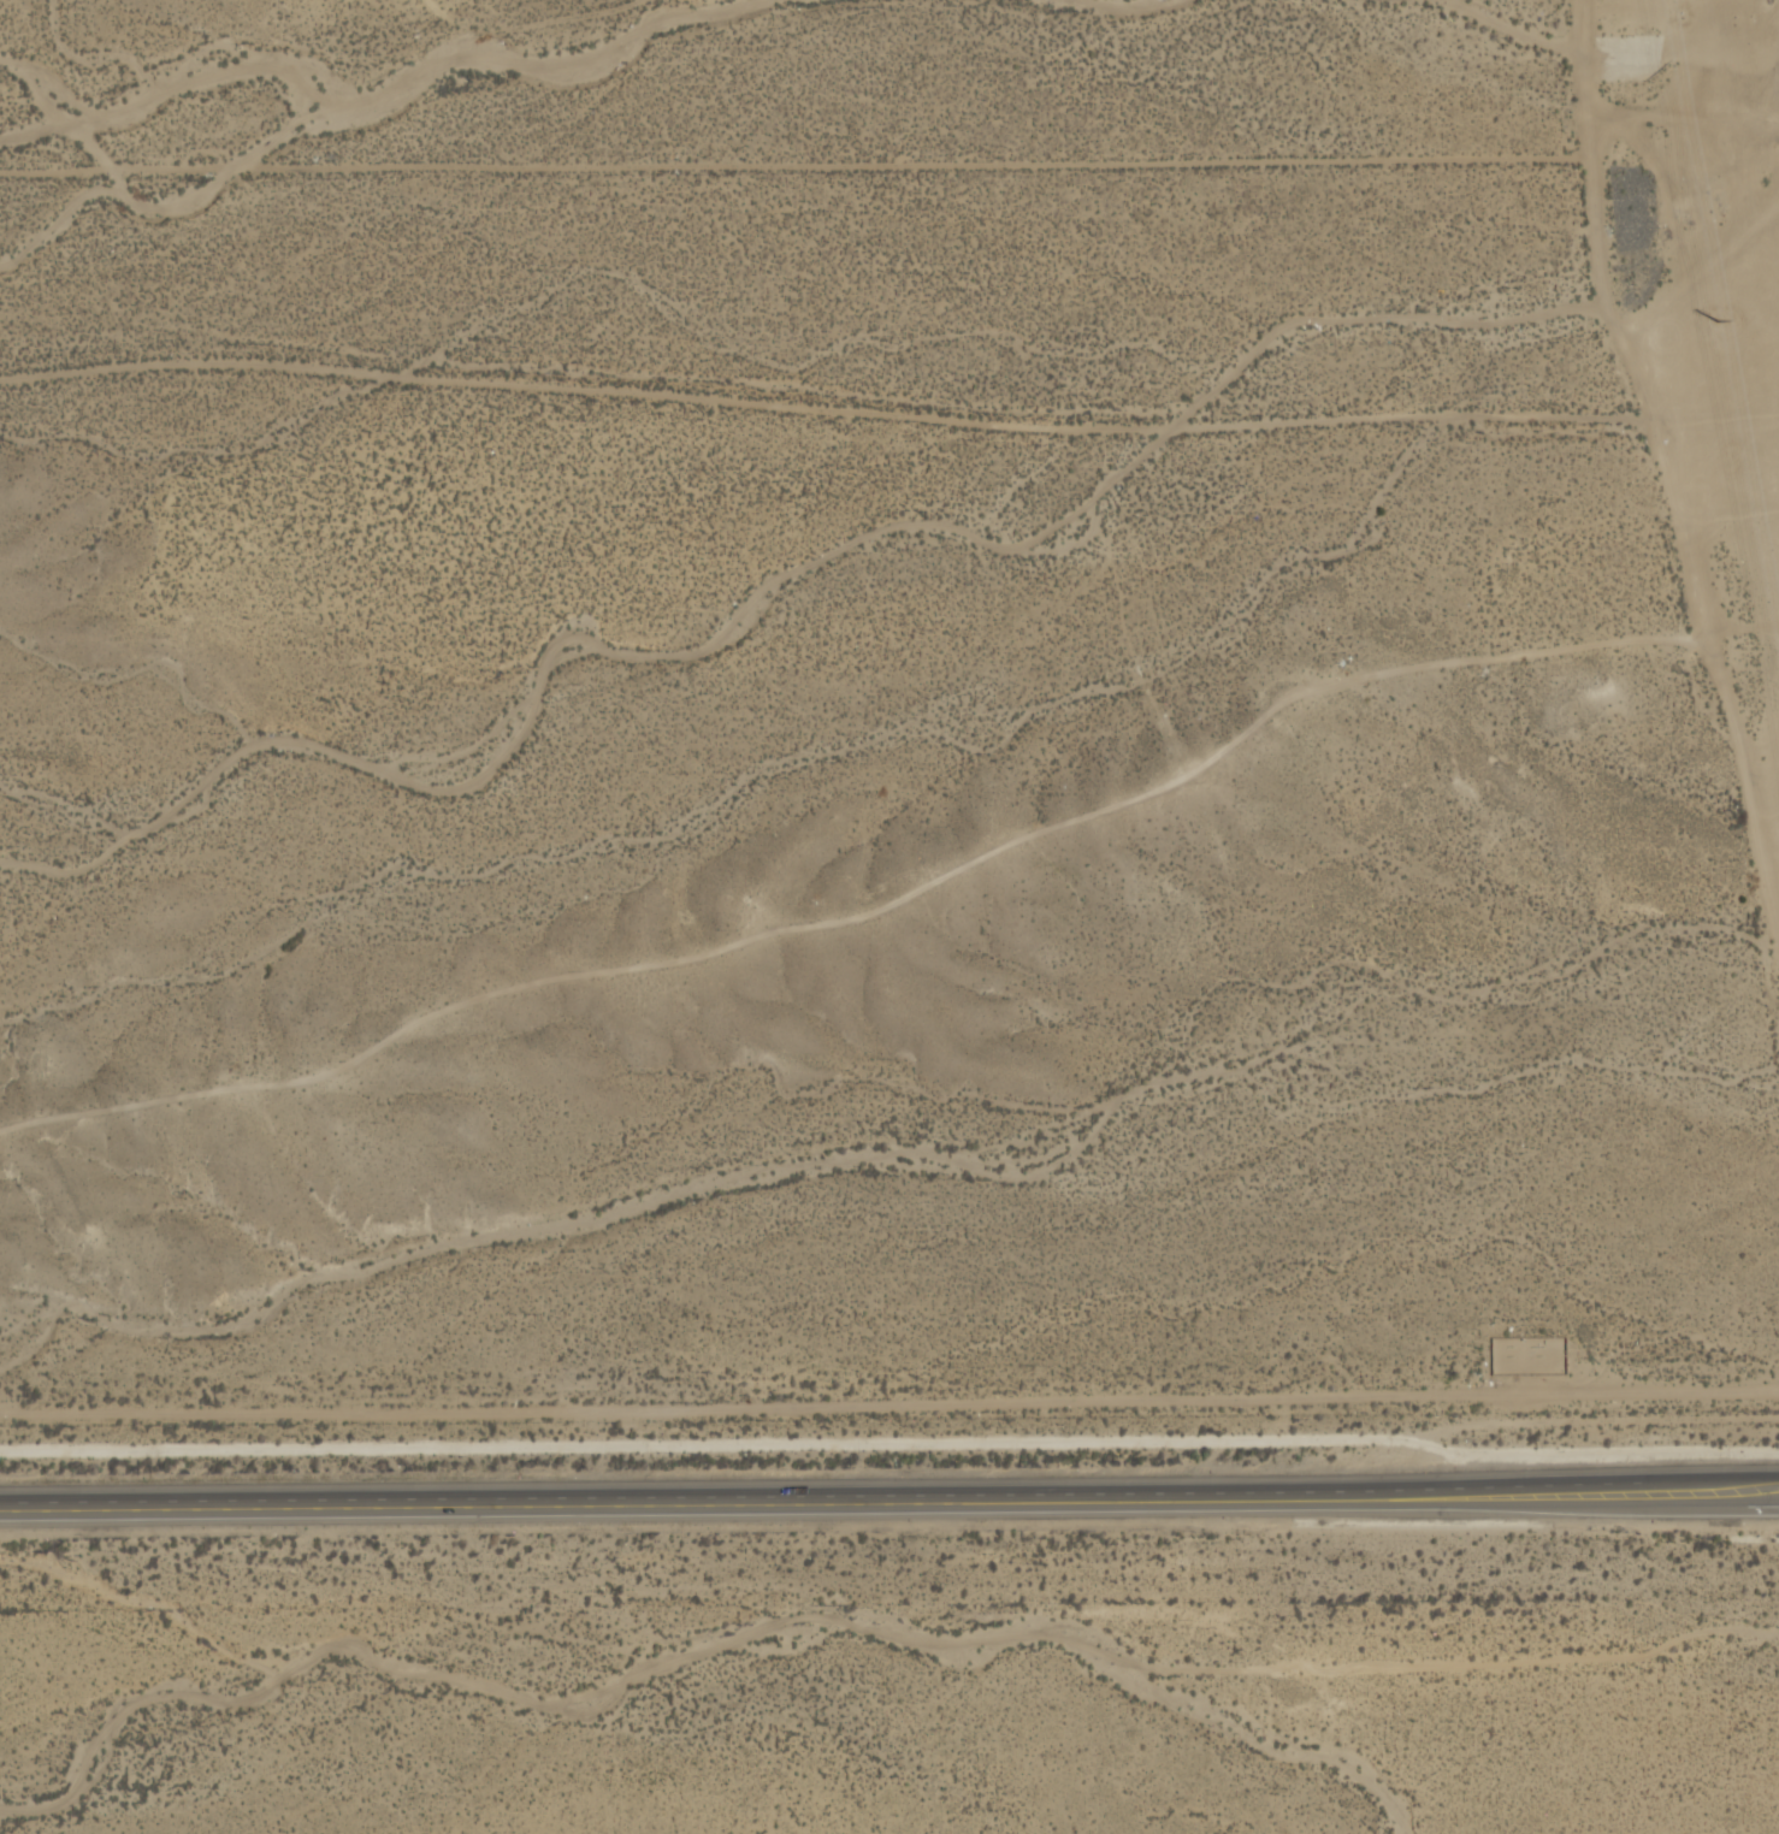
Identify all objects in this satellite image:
power tower: (1720, 325)
road: (889, 1499)

